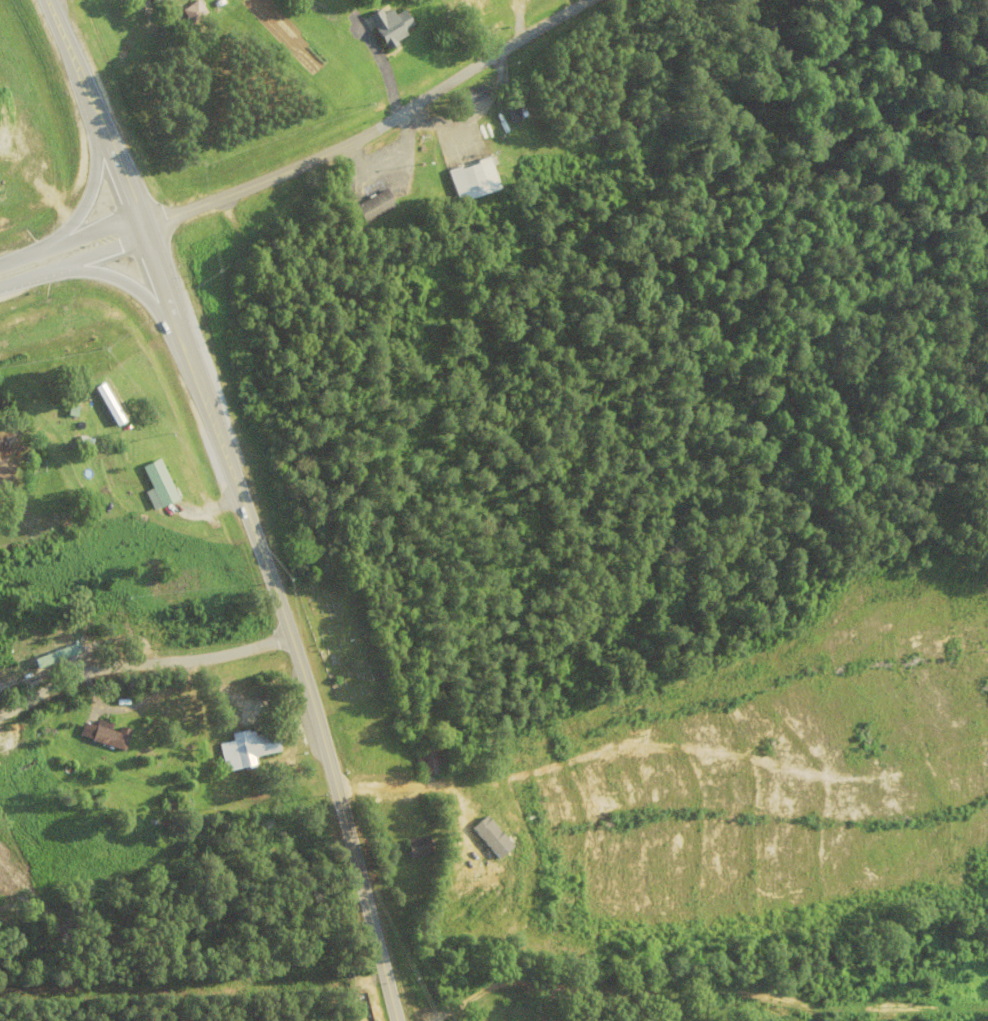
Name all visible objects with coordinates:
building: (476, 5)
building: (172, 6)
building: (195, 14)
building: (392, 28)
building: (470, 99)
road: (374, 131)
road: (121, 181)
building: (475, 182)
road: (85, 198)
building: (376, 208)
road: (70, 251)
road: (129, 290)
building: (82, 410)
building: (7, 469)
building: (161, 486)
road: (143, 671)
road: (305, 689)
building: (107, 735)
building: (248, 750)
building: (432, 763)
building: (420, 848)

